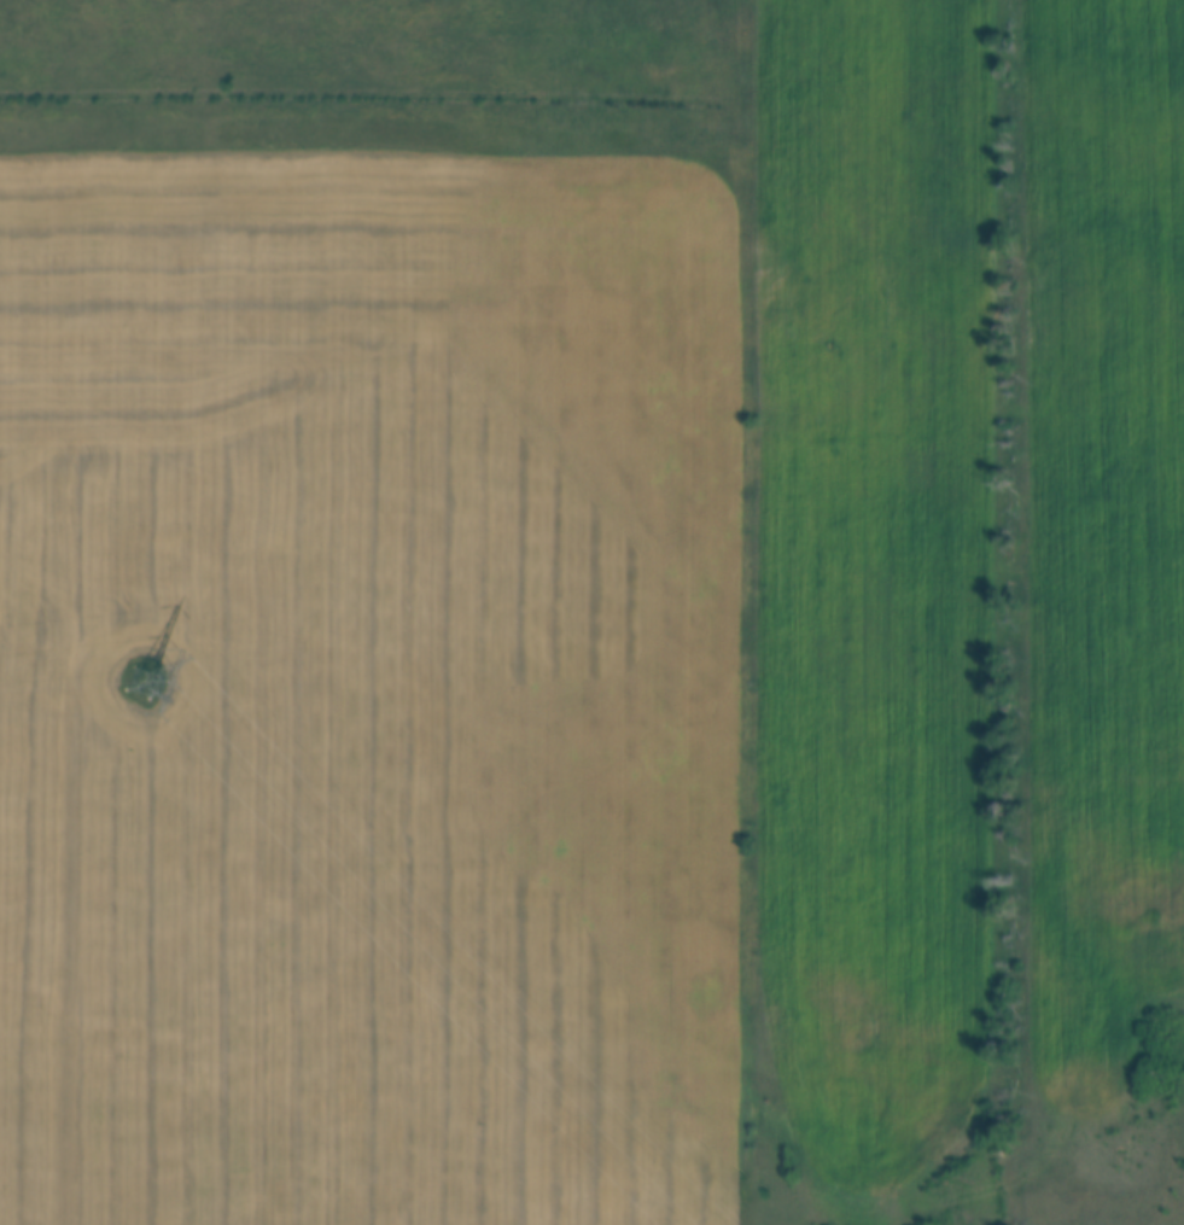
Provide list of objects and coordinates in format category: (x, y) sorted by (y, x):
power tower: (142, 688)

